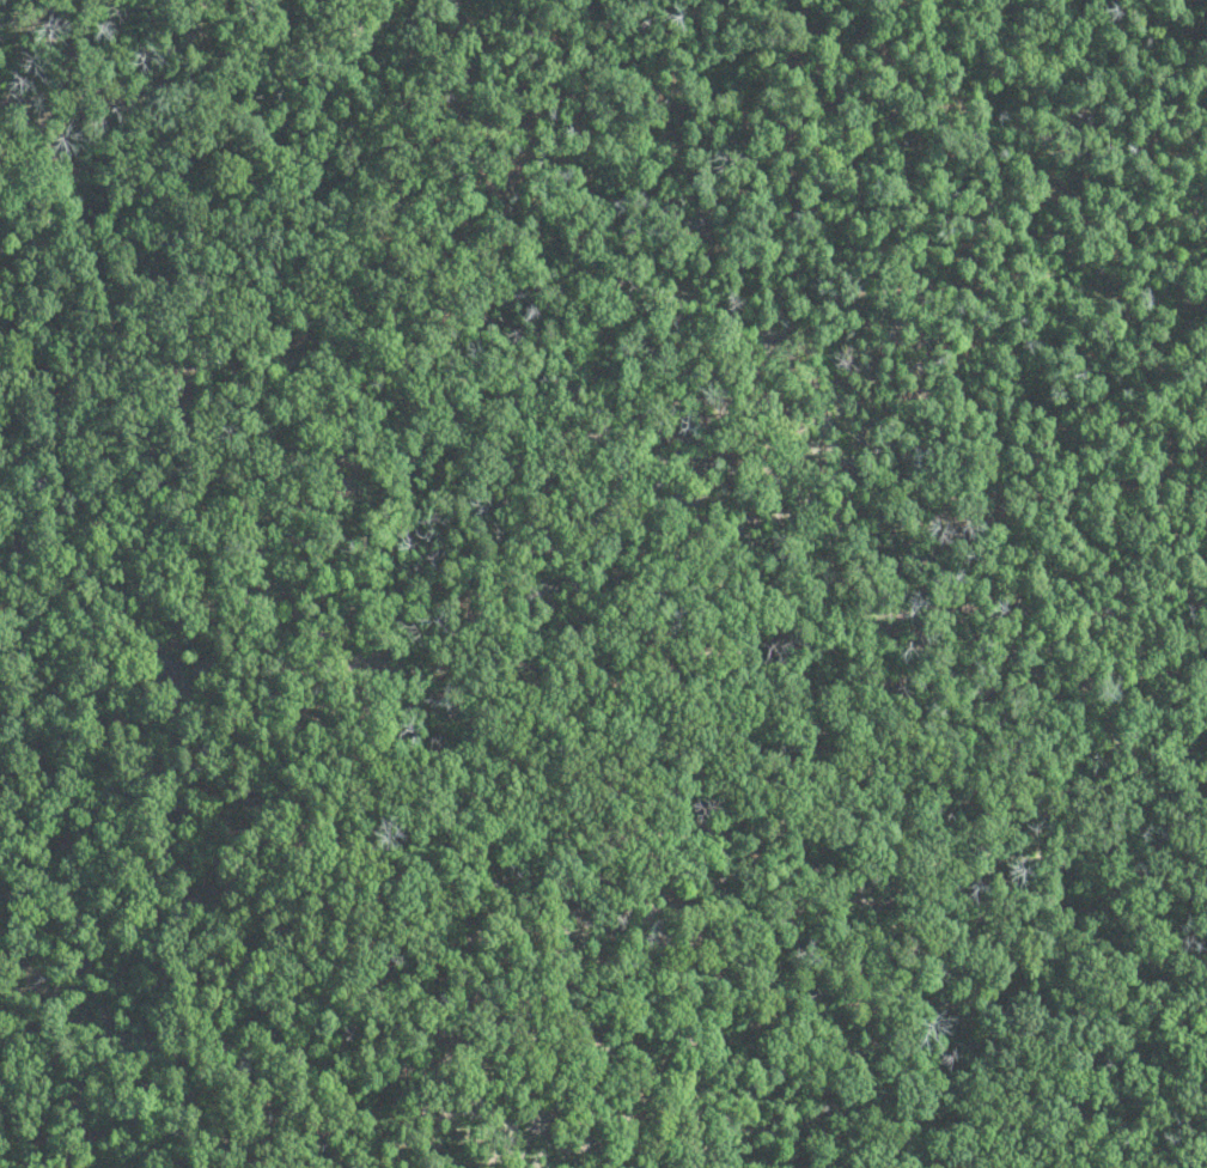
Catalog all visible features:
park: (494, 1083)

